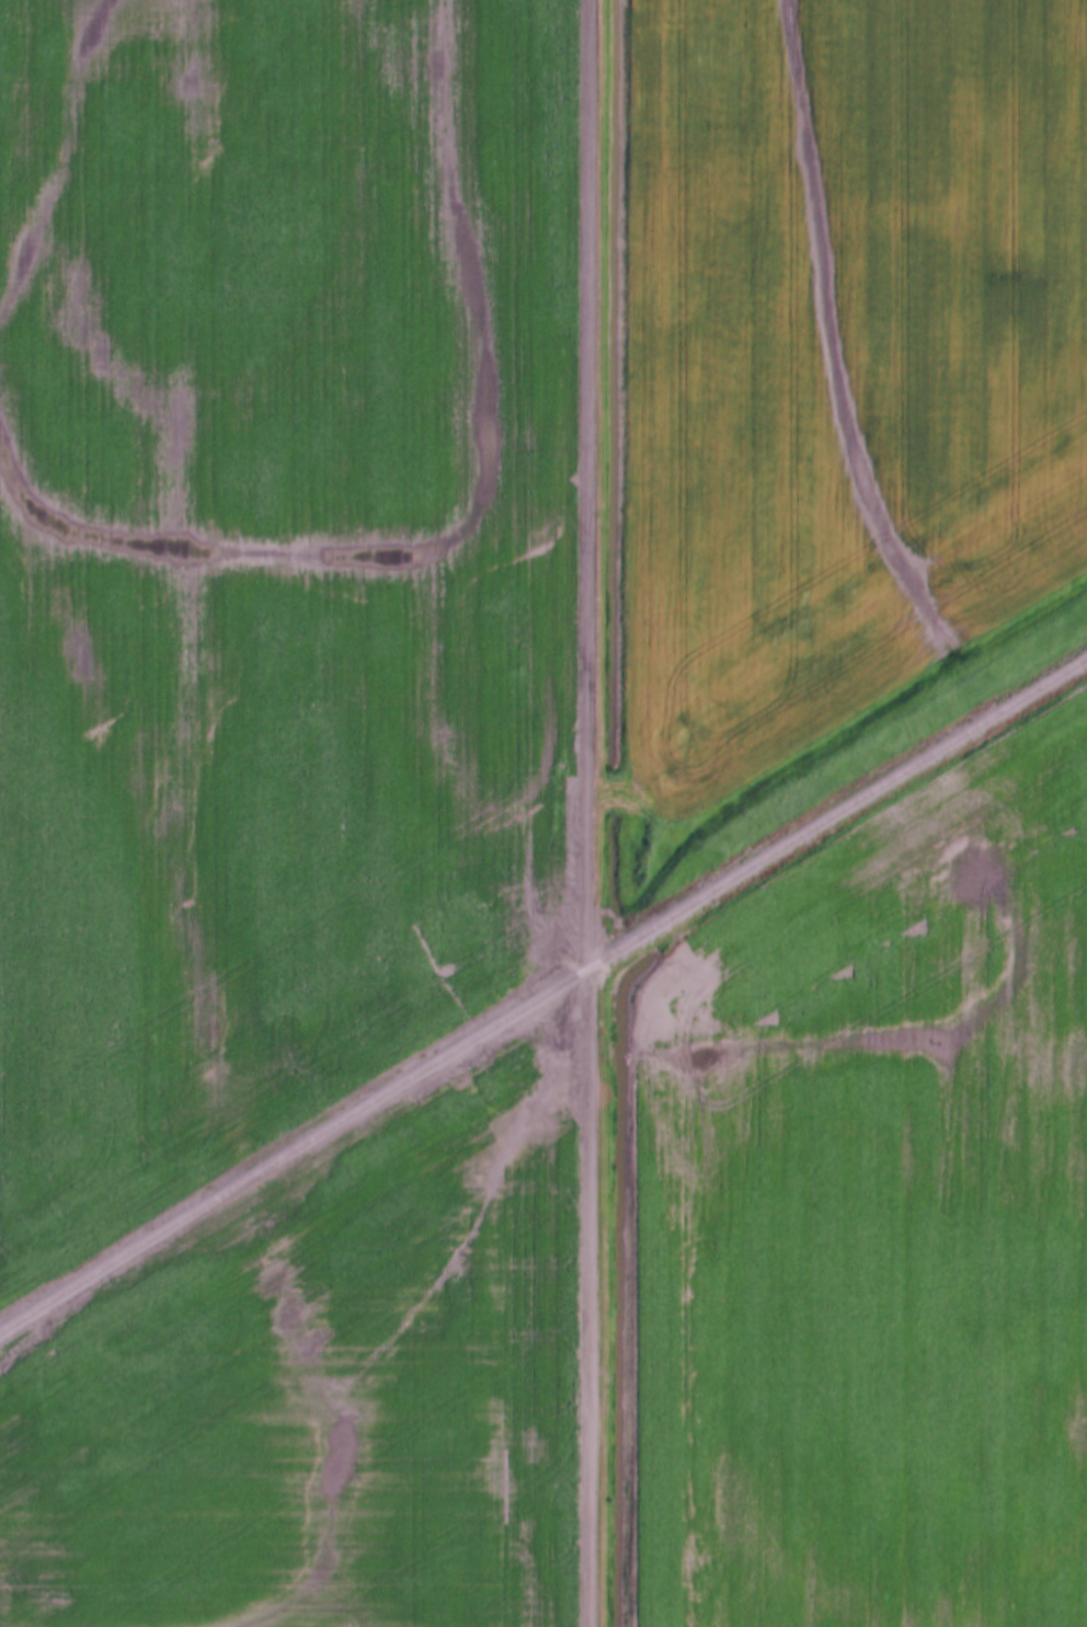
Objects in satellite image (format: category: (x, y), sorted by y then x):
road: (593, 813)
railway: (543, 996)

